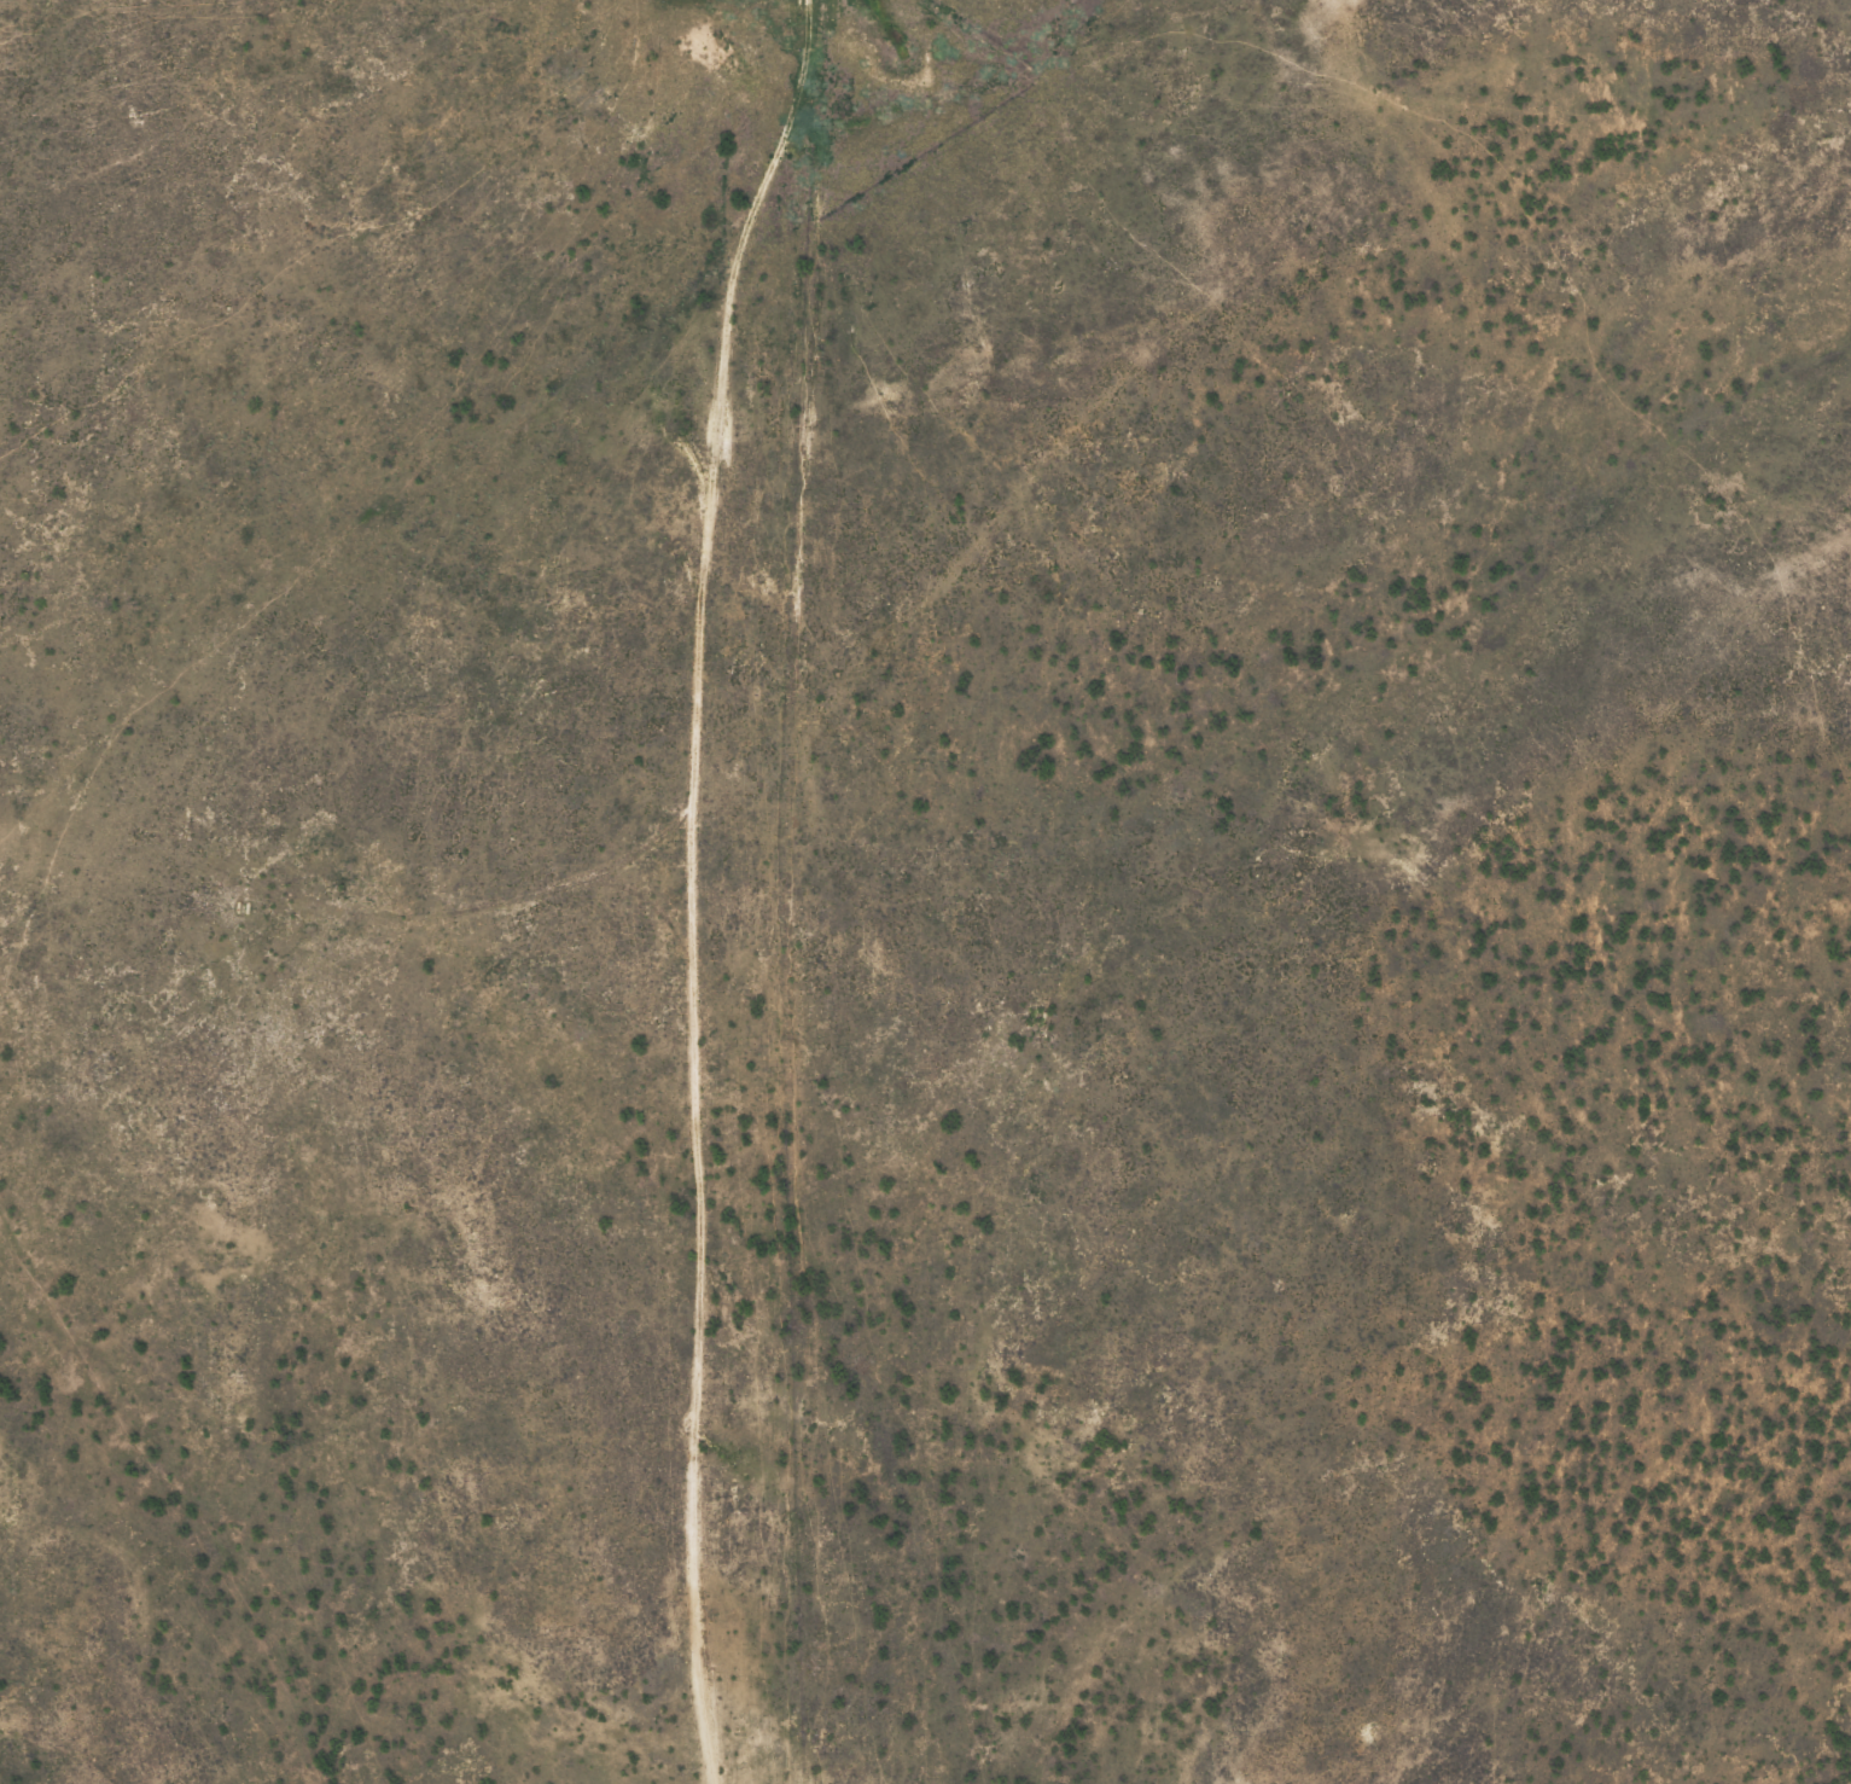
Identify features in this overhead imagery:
road: (728, 891)

